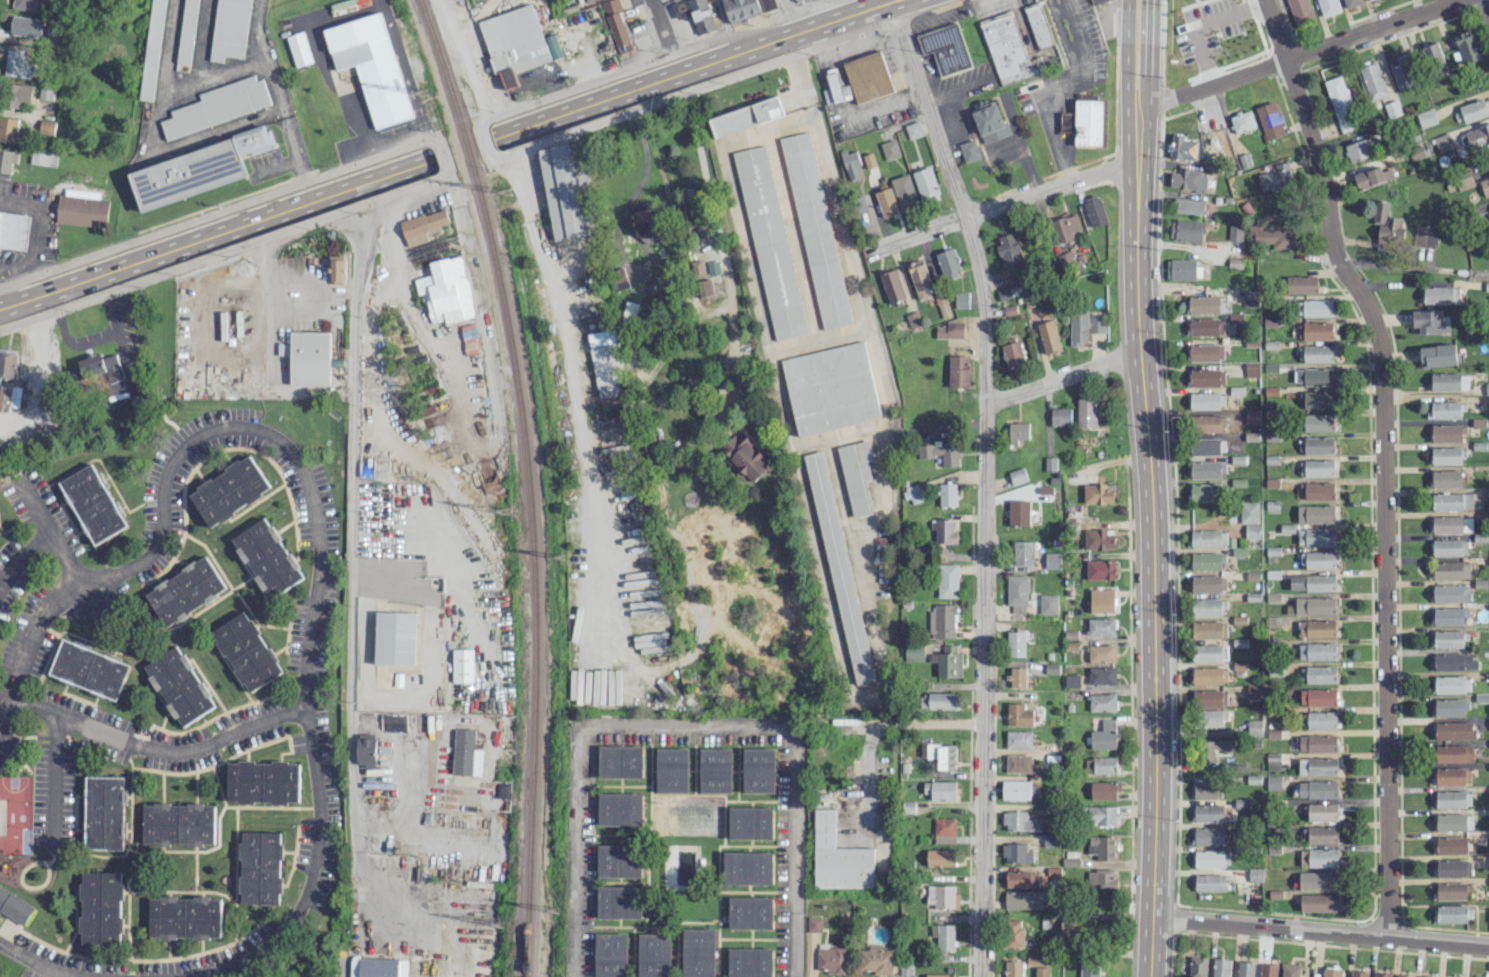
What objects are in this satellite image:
building: (589, 0)
building: (1368, 0)
building: (1096, 1)
building: (1352, 3)
building: (767, 4)
road: (877, 4)
road: (1487, 4)
building: (28, 5)
building: (1326, 7)
building: (741, 9)
building: (1300, 11)
building: (695, 13)
building: (1038, 24)
road: (1204, 24)
road: (819, 25)
building: (27, 26)
building: (617, 26)
road: (659, 27)
building: (229, 29)
building: (186, 35)
building: (517, 42)
building: (1467, 46)
building: (299, 49)
building: (946, 49)
building: (1007, 49)
building: (152, 50)
road: (1125, 53)
road: (1297, 53)
road: (1150, 54)
road: (463, 59)
building: (1435, 61)
building: (16, 64)
railway: (439, 65)
building: (371, 66)
road: (621, 70)
building: (1402, 71)
building: (867, 77)
building: (1373, 81)
road: (1050, 83)
building: (832, 88)
building: (45, 91)
road: (955, 91)
power tower: (424, 92)
road: (680, 93)
building: (16, 94)
building: (1341, 104)
building: (218, 105)
building: (1392, 109)
building: (1470, 111)
building: (745, 116)
building: (1426, 117)
building: (1269, 120)
building: (1242, 121)
building: (989, 122)
building: (1088, 123)
building: (46, 126)
building: (7, 129)
building: (913, 129)
building: (1475, 137)
road: (483, 141)
building: (1443, 142)
railway: (466, 146)
building: (1185, 148)
building: (890, 149)
building: (969, 150)
building: (1358, 150)
road: (441, 155)
building: (42, 156)
building: (7, 160)
road: (647, 161)
building: (851, 165)
building: (198, 169)
road: (386, 174)
building: (1276, 177)
building: (1372, 177)
road: (705, 179)
building: (1188, 179)
building: (1465, 179)
building: (926, 182)
building: (1485, 186)
road: (520, 188)
building: (567, 190)
power tower: (505, 192)
building: (904, 192)
road: (1003, 201)
building: (886, 202)
building: (1190, 206)
building: (82, 210)
road: (215, 211)
building: (0, 212)
building: (1095, 212)
building: (423, 226)
building: (647, 226)
building: (1387, 227)
building: (1065, 228)
building: (13, 230)
building: (816, 230)
building: (1186, 230)
building: (1235, 232)
building: (1425, 235)
building: (1273, 237)
building: (770, 242)
building: (1008, 250)
road: (225, 251)
building: (1065, 259)
building: (948, 263)
building: (713, 267)
building: (335, 268)
building: (697, 268)
road: (1415, 268)
building: (1183, 269)
road: (639, 272)
building: (619, 278)
building: (920, 279)
building: (1301, 284)
building: (892, 285)
building: (1007, 291)
building: (1441, 295)
road: (266, 299)
building: (1203, 304)
building: (1313, 307)
road: (299, 309)
building: (629, 311)
building: (1427, 321)
road: (417, 322)
building: (1085, 326)
building: (1205, 326)
building: (950, 329)
building: (1317, 331)
building: (1048, 336)
building: (1206, 352)
building: (1317, 353)
building: (1012, 354)
building: (1438, 355)
building: (309, 358)
building: (7, 363)
building: (100, 366)
building: (1251, 369)
building: (958, 371)
building: (1313, 376)
road: (1061, 377)
building: (1206, 377)
building: (1449, 381)
building: (831, 388)
building: (1487, 388)
building: (9, 397)
building: (1206, 400)
building: (1319, 400)
building: (1444, 410)
building: (1086, 412)
road: (575, 415)
building: (1060, 416)
park: (306, 422)
building: (1318, 422)
building: (1204, 423)
building: (1017, 432)
building: (1446, 433)
building: (1318, 445)
building: (1206, 446)
building: (941, 452)
building: (1446, 455)
building: (745, 456)
road: (1381, 457)
building: (1318, 467)
building: (1207, 469)
building: (856, 474)
building: (1446, 478)
road: (983, 481)
building: (1318, 490)
building: (229, 491)
building: (1206, 492)
building: (914, 493)
building: (1097, 493)
building: (947, 494)
building: (1452, 501)
building: (93, 504)
power tower: (503, 512)
building: (1249, 512)
building: (1018, 513)
building: (1315, 513)
building: (1452, 524)
road: (48, 531)
building: (943, 531)
building: (1252, 531)
building: (1316, 537)
building: (1208, 538)
building: (1098, 539)
road: (1152, 541)
building: (1447, 547)
building: (1022, 552)
road: (21, 555)
power tower: (557, 555)
building: (268, 557)
building: (1320, 559)
building: (1052, 560)
building: (1207, 560)
railway: (529, 566)
building: (840, 567)
building: (1100, 569)
building: (1451, 570)
road: (112, 574)
building: (947, 580)
building: (1312, 582)
building: (1208, 583)
road: (350, 584)
building: (186, 591)
building: (1016, 593)
building: (1451, 593)
building: (1101, 600)
building: (1048, 604)
building: (1315, 605)
building: (1208, 607)
building: (1449, 616)
building: (942, 620)
building: (1100, 626)
building: (1317, 628)
building: (1209, 629)
building: (395, 638)
building: (1448, 639)
building: (1015, 643)
building: (246, 651)
building: (1317, 651)
building: (1209, 652)
building: (914, 653)
building: (1101, 653)
building: (947, 661)
building: (1452, 661)
building: (463, 665)
building: (90, 669)
building: (1317, 674)
building: (1101, 675)
building: (1209, 675)
building: (1071, 681)
building: (1451, 684)
building: (179, 685)
building: (1254, 691)
building: (1317, 697)
building: (1210, 698)
road: (305, 700)
building: (937, 700)
building: (1102, 702)
building: (1450, 707)
building: (1019, 714)
building: (1211, 718)
building: (1320, 720)
building: (393, 723)
road: (883, 725)
building: (1254, 728)
building: (1454, 730)
building: (1103, 735)
building: (1019, 740)
building: (1317, 743)
road: (152, 745)
road: (791, 746)
building: (366, 750)
building: (928, 750)
building: (1214, 751)
building: (465, 753)
building: (1453, 753)
building: (946, 757)
building: (1273, 761)
building: (620, 762)
building: (1018, 763)
building: (1100, 765)
building: (1317, 765)
building: (672, 770)
building: (716, 771)
building: (759, 771)
road: (53, 776)
building: (1452, 776)
building: (262, 782)
building: (1273, 782)
building: (940, 789)
building: (1018, 789)
building: (1318, 789)
building: (1104, 790)
building: (1207, 790)
building: (1452, 799)
building: (620, 809)
building: (1323, 811)
building: (104, 812)
building: (1209, 813)
building: (1101, 815)
building: (1020, 821)
building: (1454, 821)
building: (751, 823)
building: (177, 824)
building: (944, 826)
building: (1322, 834)
building: (1212, 836)
building: (944, 839)
building: (1050, 841)
building: (1451, 845)
building: (1102, 847)
road: (575, 852)
building: (1016, 853)
building: (839, 857)
building: (940, 857)
building: (1319, 857)
building: (1070, 858)
building: (1209, 859)
building: (620, 861)
building: (260, 867)
building: (748, 868)
building: (1453, 868)
building: (1256, 874)
building: (1025, 879)
building: (1319, 880)
building: (1210, 882)
building: (1103, 886)
building: (1452, 890)
building: (942, 896)
building: (1024, 899)
building: (620, 903)
building: (14, 906)
building: (100, 908)
power tower: (553, 910)
building: (750, 913)
building: (1454, 913)
building: (1488, 915)
building: (184, 917)
building: (814, 923)
power tower: (500, 925)
building: (1082, 925)
road: (1320, 930)
building: (1013, 933)
building: (943, 936)
building: (698, 953)
building: (611, 955)
building: (654, 955)
park: (299, 957)
building: (832, 959)
building: (876, 959)
building: (1035, 960)
road: (37, 962)
building: (750, 962)
building: (1197, 966)
building: (378, 967)
building: (1089, 967)
building: (1221, 967)
building: (1013, 968)
building: (1245, 968)
building: (1268, 969)
building: (1290, 970)
building: (1042, 971)
building: (1331, 972)
building: (1359, 973)
building: (1382, 974)
building: (939, 975)
building: (1404, 975)
building: (1426, 976)

